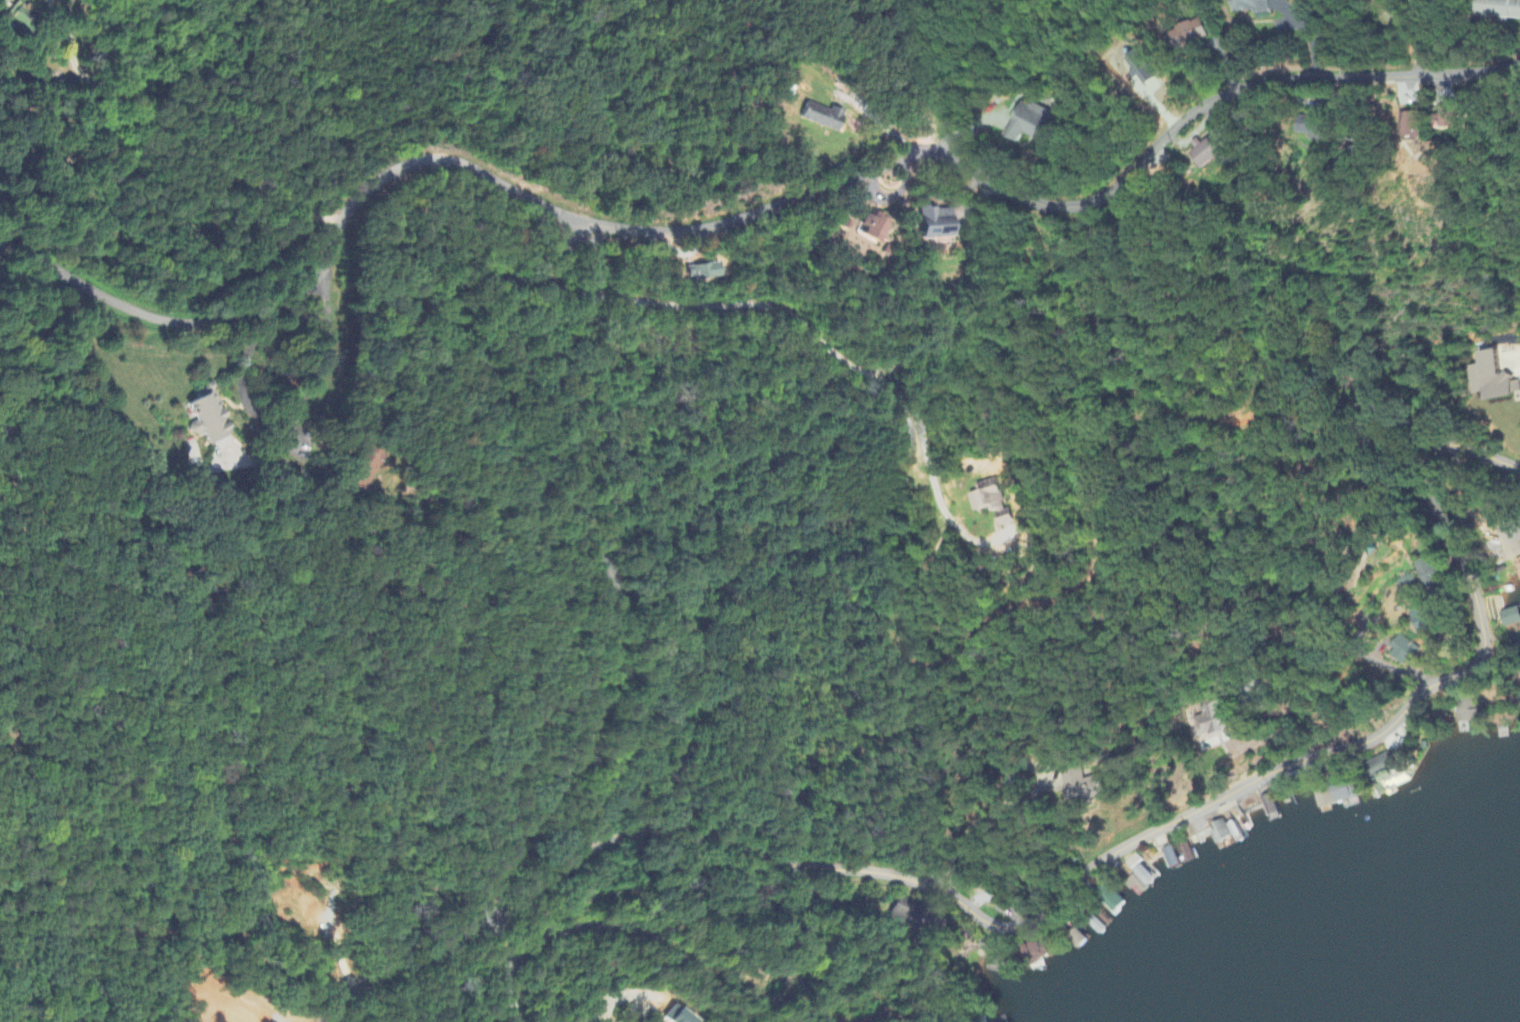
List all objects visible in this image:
building: (1258, 6)
building: (1498, 9)
building: (22, 17)
building: (1194, 33)
building: (1139, 69)
building: (820, 117)
building: (1449, 119)
building: (1028, 123)
building: (1411, 125)
building: (1315, 127)
road: (174, 135)
building: (1207, 154)
building: (938, 223)
building: (878, 228)
road: (643, 232)
building: (703, 272)
road: (314, 282)
road: (799, 311)
building: (1494, 378)
road: (286, 416)
building: (208, 418)
road: (268, 457)
building: (363, 468)
building: (992, 501)
road: (969, 539)
building: (1428, 573)
building: (1408, 587)
building: (1504, 617)
road: (1337, 645)
building: (1461, 717)
building: (1213, 725)
road: (1009, 780)
building: (1087, 787)
building: (1338, 793)
road: (1135, 796)
building: (1317, 800)
building: (1216, 833)
road: (1057, 901)
building: (913, 917)
road: (615, 926)
road: (503, 944)
building: (989, 953)
road: (511, 1012)
road: (598, 1018)

